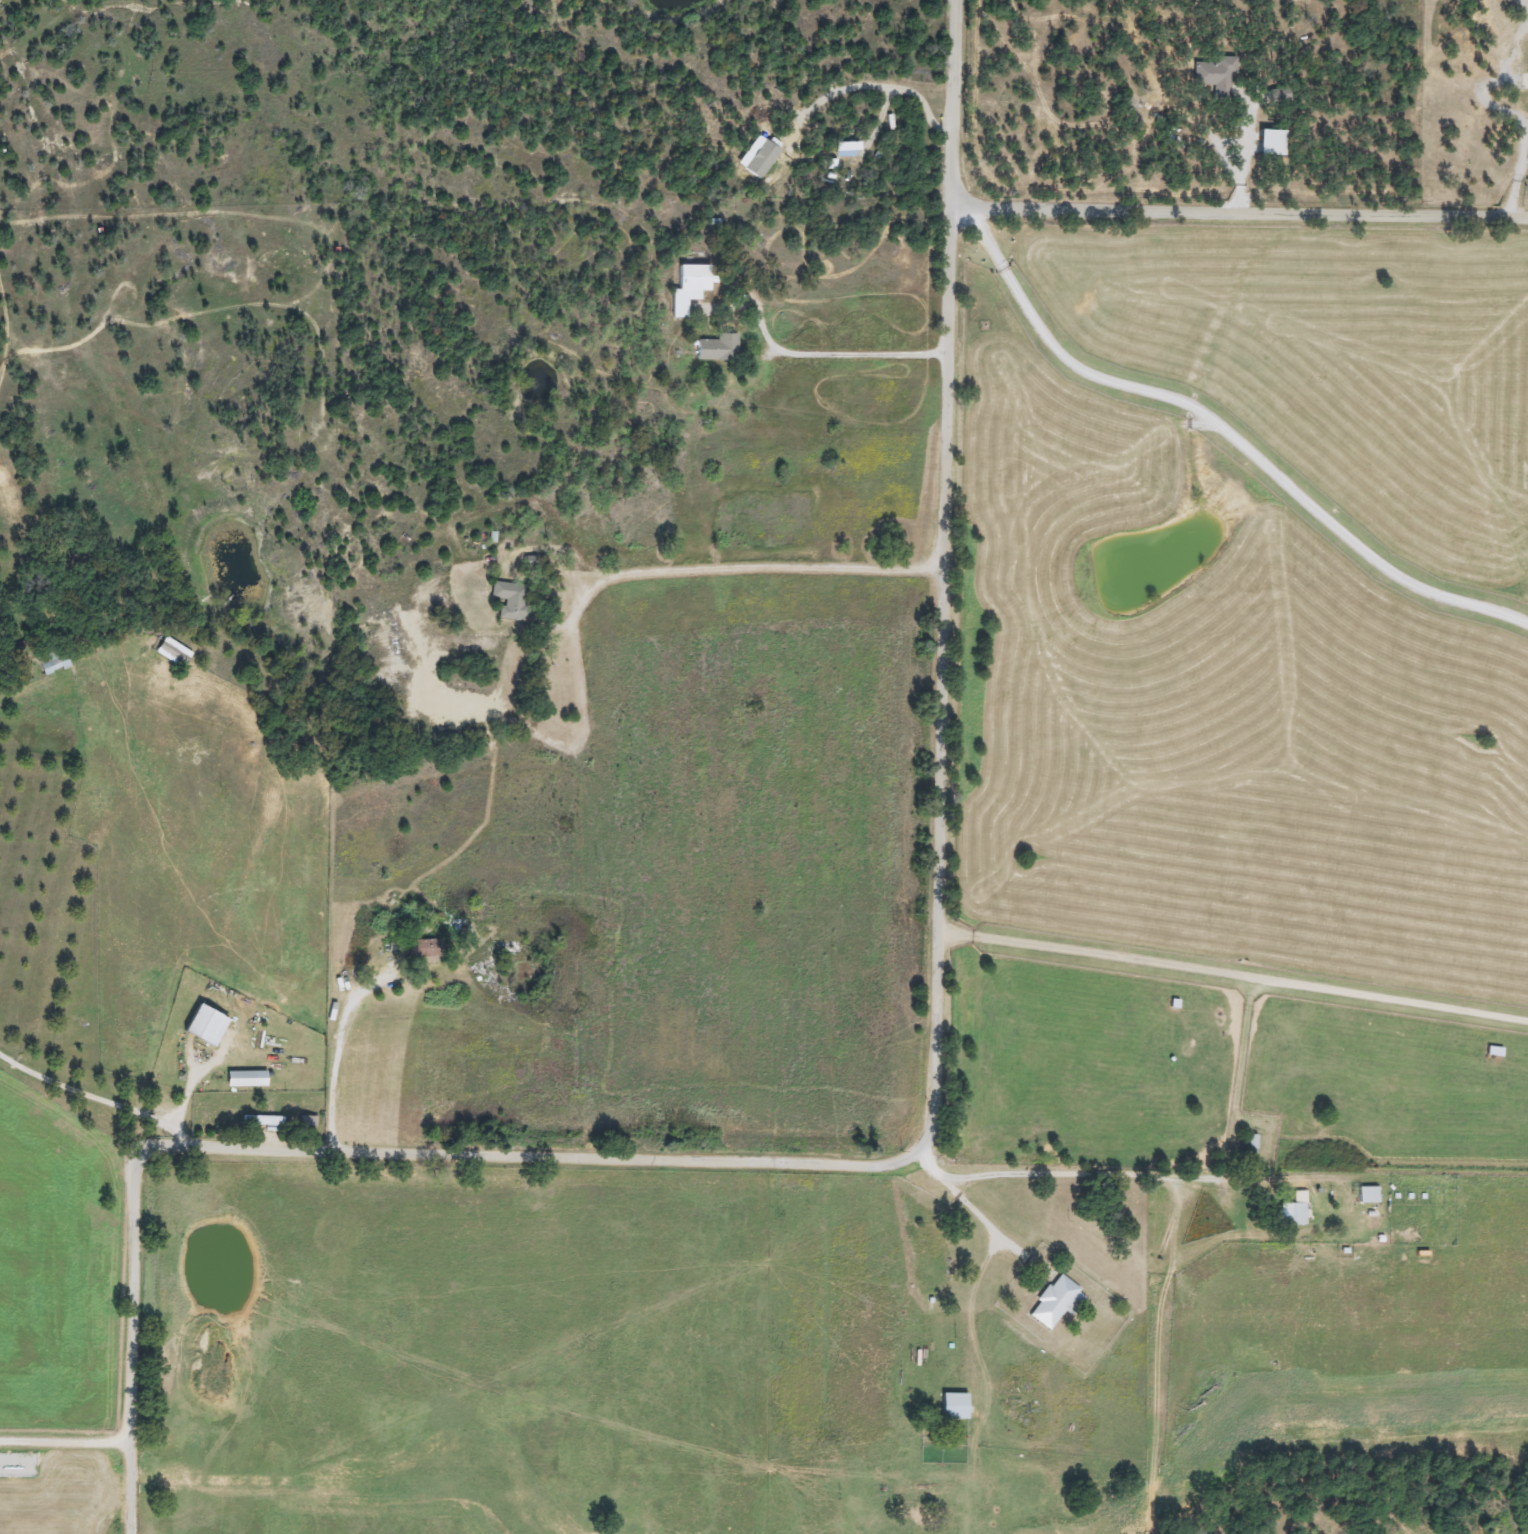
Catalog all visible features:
building: (1214, 77)
road: (870, 83)
building: (1271, 96)
road: (1515, 166)
road: (1236, 209)
building: (693, 278)
building: (676, 306)
building: (714, 348)
road: (819, 352)
road: (1226, 433)
road: (744, 567)
building: (508, 600)
building: (170, 652)
building: (52, 663)
road: (965, 931)
building: (422, 947)
road: (1264, 977)
building: (201, 1024)
road: (339, 1049)
building: (243, 1078)
road: (94, 1097)
road: (926, 1109)
building: (260, 1120)
road: (1093, 1174)
building: (1290, 1211)
road: (974, 1212)
building: (1053, 1302)
building: (950, 1406)
road: (63, 1439)
road: (125, 1487)

